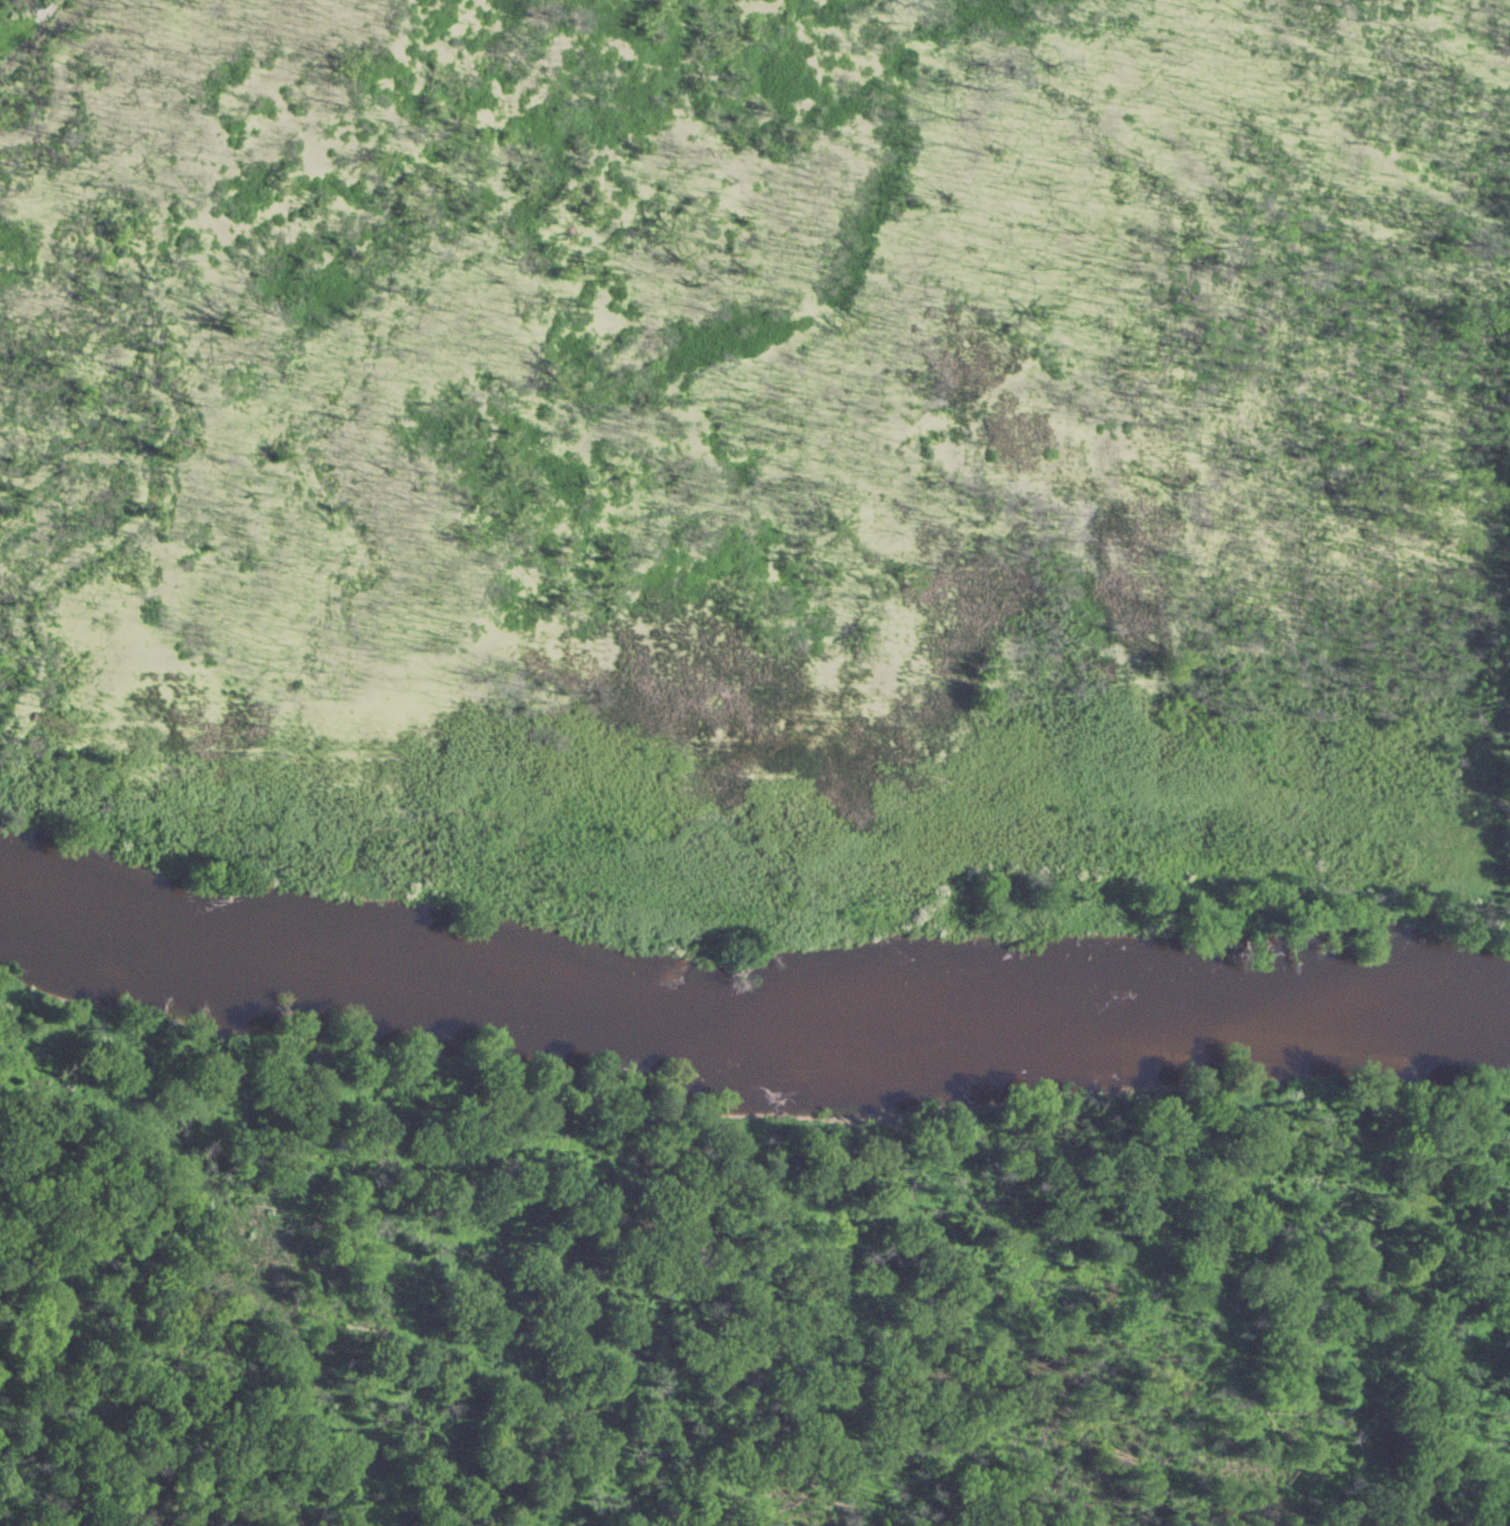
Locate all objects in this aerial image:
road: (28, 17)
river: (748, 1030)

